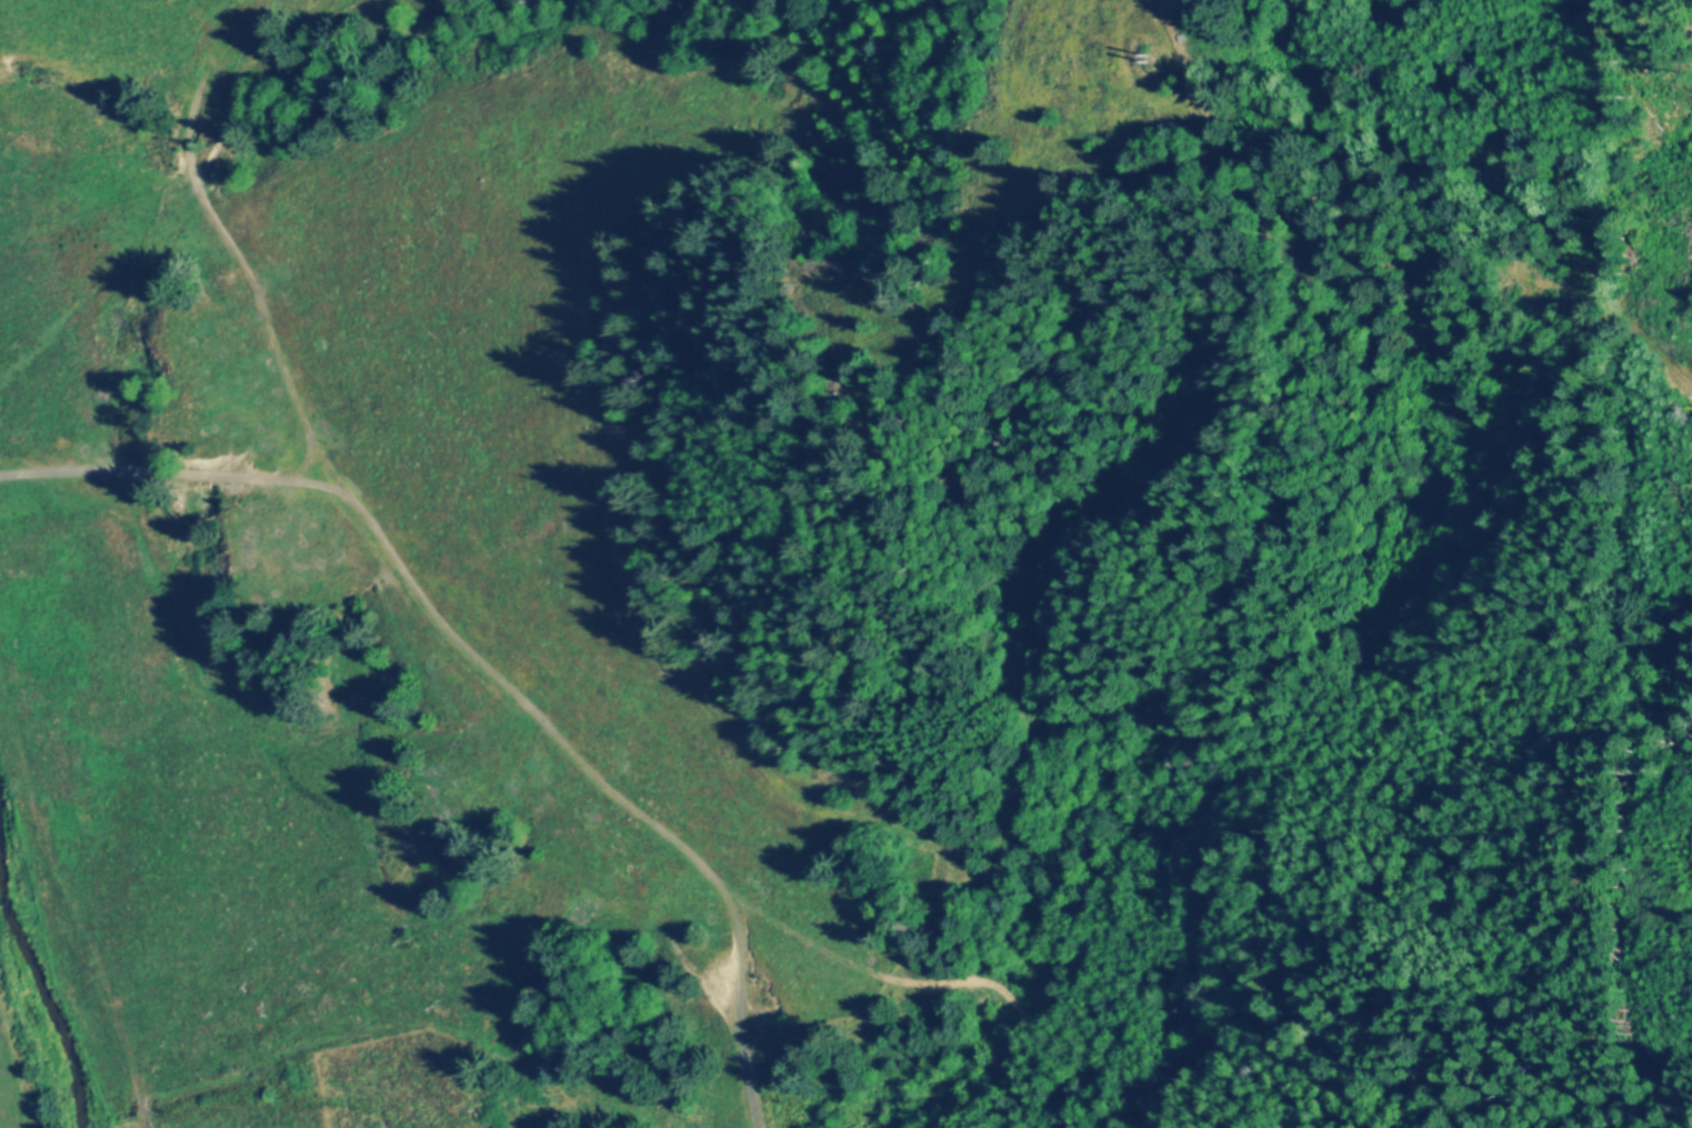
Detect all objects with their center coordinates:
road: (1500, 199)
road: (174, 475)
road: (611, 787)
river: (29, 967)

